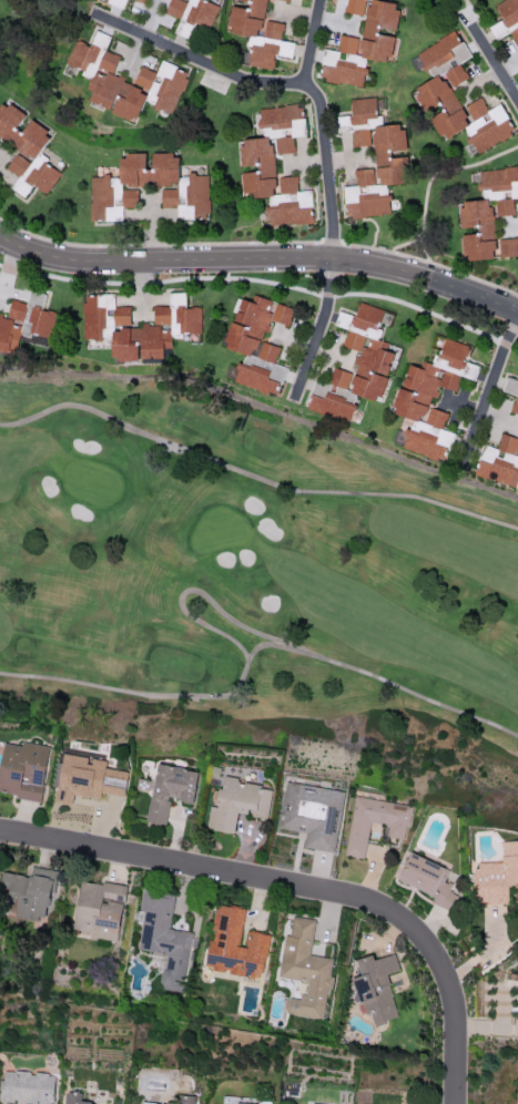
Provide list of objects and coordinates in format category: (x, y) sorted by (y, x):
building: (142, 0)
building: (285, 0)
building: (118, 2)
building: (193, 11)
road: (469, 14)
building: (507, 20)
building: (258, 32)
building: (363, 42)
road: (315, 43)
road: (200, 60)
road: (497, 63)
building: (162, 75)
building: (435, 92)
building: (26, 151)
building: (257, 160)
building: (392, 162)
building: (113, 186)
building: (488, 211)
road: (335, 243)
building: (508, 246)
road: (261, 263)
building: (26, 321)
building: (172, 325)
building: (256, 340)
building: (357, 365)
building: (512, 391)
road: (488, 396)
building: (430, 399)
road: (264, 406)
building: (500, 461)
road: (463, 472)
road: (253, 476)
road: (187, 591)
road: (252, 648)
building: (23, 769)
building: (88, 778)
building: (171, 789)
building: (237, 804)
building: (312, 814)
building: (375, 821)
building: (497, 876)
building: (428, 879)
road: (303, 888)
building: (30, 891)
building: (99, 910)
building: (163, 936)
building: (236, 943)
building: (305, 969)
building: (376, 987)
building: (28, 1087)
building: (74, 1097)
building: (175, 1100)
building: (241, 1103)
building: (317, 1103)

